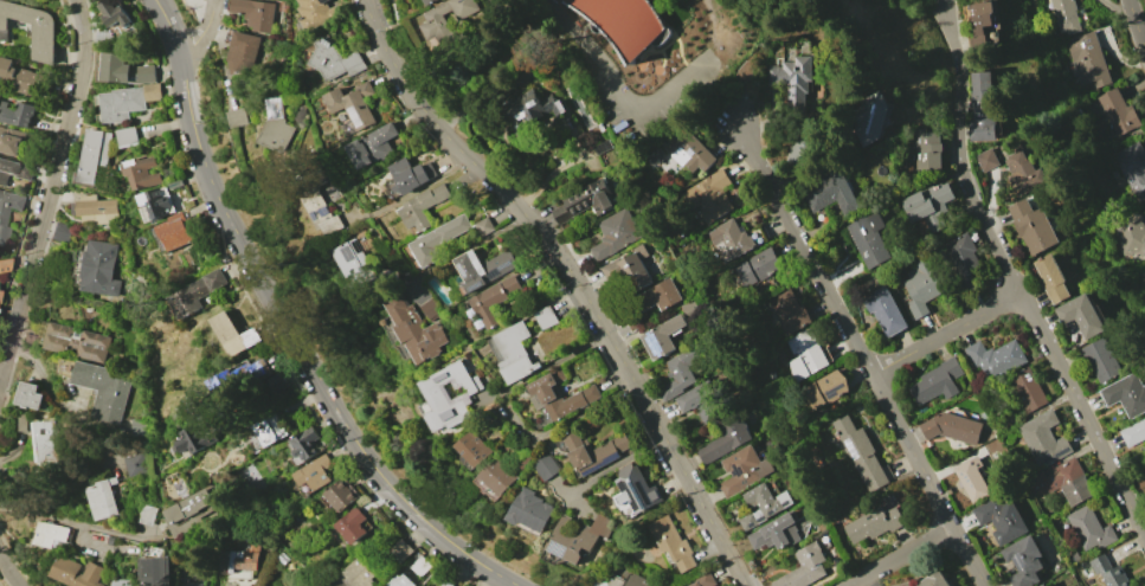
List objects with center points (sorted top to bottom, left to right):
building: (489, 0)
building: (426, 1)
building: (114, 13)
building: (253, 13)
building: (314, 13)
building: (1064, 17)
building: (444, 18)
building: (626, 21)
building: (980, 22)
road: (1136, 26)
road: (201, 31)
building: (43, 32)
road: (551, 40)
building: (242, 52)
building: (333, 59)
building: (1088, 60)
building: (258, 62)
road: (714, 69)
building: (124, 70)
building: (19, 77)
building: (792, 78)
road: (519, 81)
road: (618, 94)
building: (127, 101)
building: (353, 103)
building: (982, 108)
building: (529, 110)
building: (15, 112)
building: (1118, 112)
building: (237, 117)
building: (871, 117)
building: (277, 125)
building: (600, 127)
building: (127, 136)
building: (9, 141)
building: (803, 144)
building: (372, 146)
building: (603, 146)
building: (688, 150)
building: (927, 150)
building: (94, 154)
building: (985, 160)
building: (1132, 168)
building: (13, 169)
building: (141, 172)
building: (1023, 172)
building: (410, 174)
building: (175, 182)
road: (50, 186)
building: (829, 193)
building: (708, 197)
building: (584, 200)
building: (155, 202)
building: (92, 205)
building: (322, 205)
building: (929, 205)
building: (422, 206)
building: (1, 218)
building: (483, 226)
building: (1033, 226)
building: (174, 231)
building: (60, 232)
building: (616, 233)
building: (729, 238)
building: (869, 238)
building: (1131, 238)
building: (437, 242)
building: (963, 252)
building: (2, 264)
building: (358, 266)
building: (757, 266)
building: (98, 268)
building: (481, 268)
building: (629, 269)
building: (1143, 273)
building: (1051, 278)
road: (577, 279)
road: (1018, 284)
building: (920, 286)
building: (194, 292)
building: (660, 296)
building: (490, 302)
building: (430, 310)
building: (787, 310)
building: (883, 310)
building: (1081, 315)
building: (545, 317)
building: (636, 321)
road: (290, 324)
building: (413, 329)
building: (232, 334)
road: (951, 334)
building: (662, 336)
road: (322, 339)
building: (77, 341)
building: (514, 353)
building: (804, 355)
road: (867, 355)
building: (993, 358)
building: (1098, 359)
road: (545, 367)
building: (680, 372)
building: (236, 378)
building: (935, 381)
building: (278, 382)
building: (103, 388)
building: (825, 388)
building: (541, 391)
building: (1028, 391)
building: (432, 392)
building: (1126, 394)
building: (30, 395)
building: (700, 400)
building: (951, 427)
building: (270, 430)
building: (1133, 432)
building: (725, 437)
building: (1043, 438)
building: (191, 439)
building: (45, 440)
building: (305, 443)
building: (472, 447)
building: (593, 451)
building: (997, 451)
building: (861, 452)
road: (617, 463)
building: (134, 464)
building: (545, 466)
building: (741, 470)
building: (315, 472)
building: (496, 477)
building: (972, 478)
building: (1069, 481)
building: (635, 489)
building: (342, 494)
building: (102, 498)
building: (761, 504)
building: (191, 509)
building: (530, 510)
building: (147, 514)
building: (1001, 517)
road: (73, 522)
building: (873, 523)
building: (352, 524)
building: (1088, 528)
building: (50, 533)
building: (774, 533)
building: (578, 537)
building: (671, 542)
building: (403, 547)
road: (905, 556)
building: (238, 558)
building: (1023, 561)
building: (152, 566)
building: (420, 566)
building: (803, 567)
road: (8, 571)
building: (77, 572)
building: (358, 572)
building: (1108, 572)
building: (184, 579)
building: (638, 580)
building: (705, 580)
road: (874, 580)
building: (933, 580)
building: (400, 581)
building: (122, 582)
building: (446, 582)
building: (907, 585)
building: (1042, 585)

